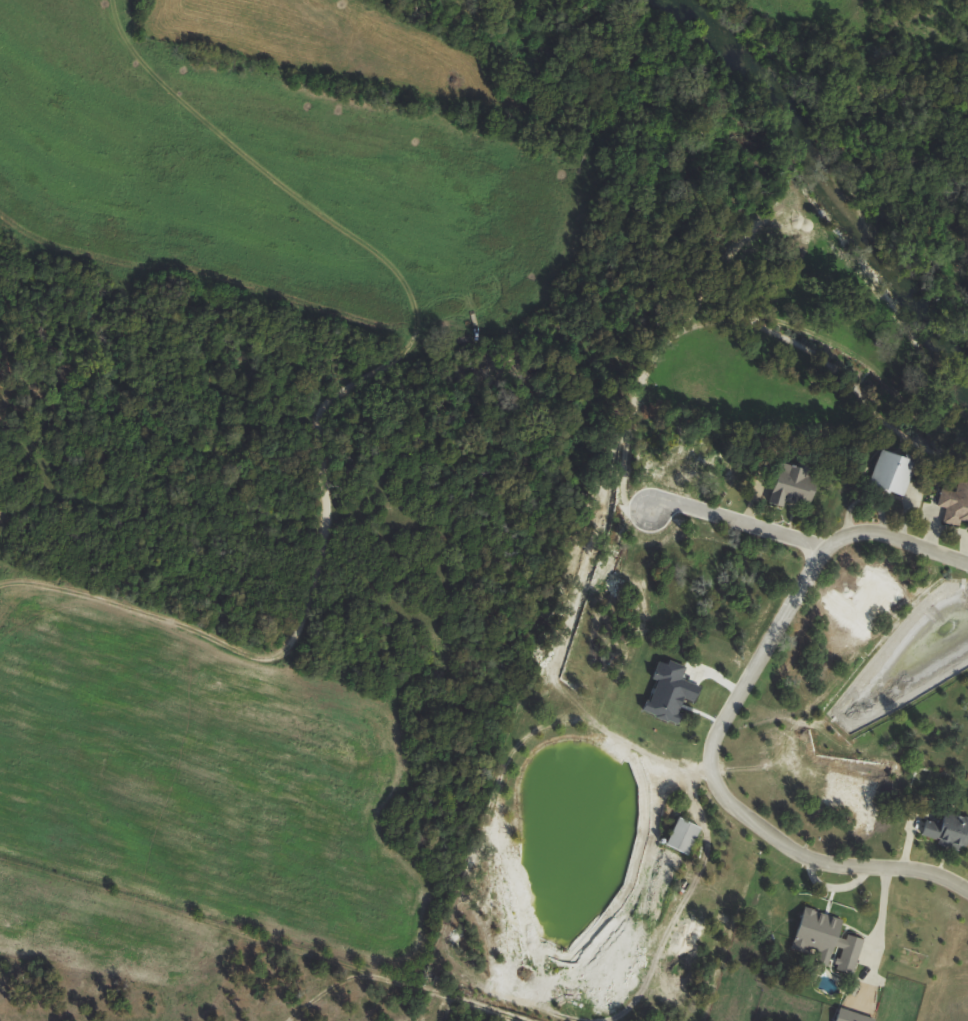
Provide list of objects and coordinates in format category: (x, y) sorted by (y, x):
building: (893, 470)
building: (795, 486)
building: (954, 503)
road: (736, 520)
building: (670, 692)
road: (720, 720)
building: (683, 835)
building: (816, 933)
building: (849, 953)
building: (852, 1016)

